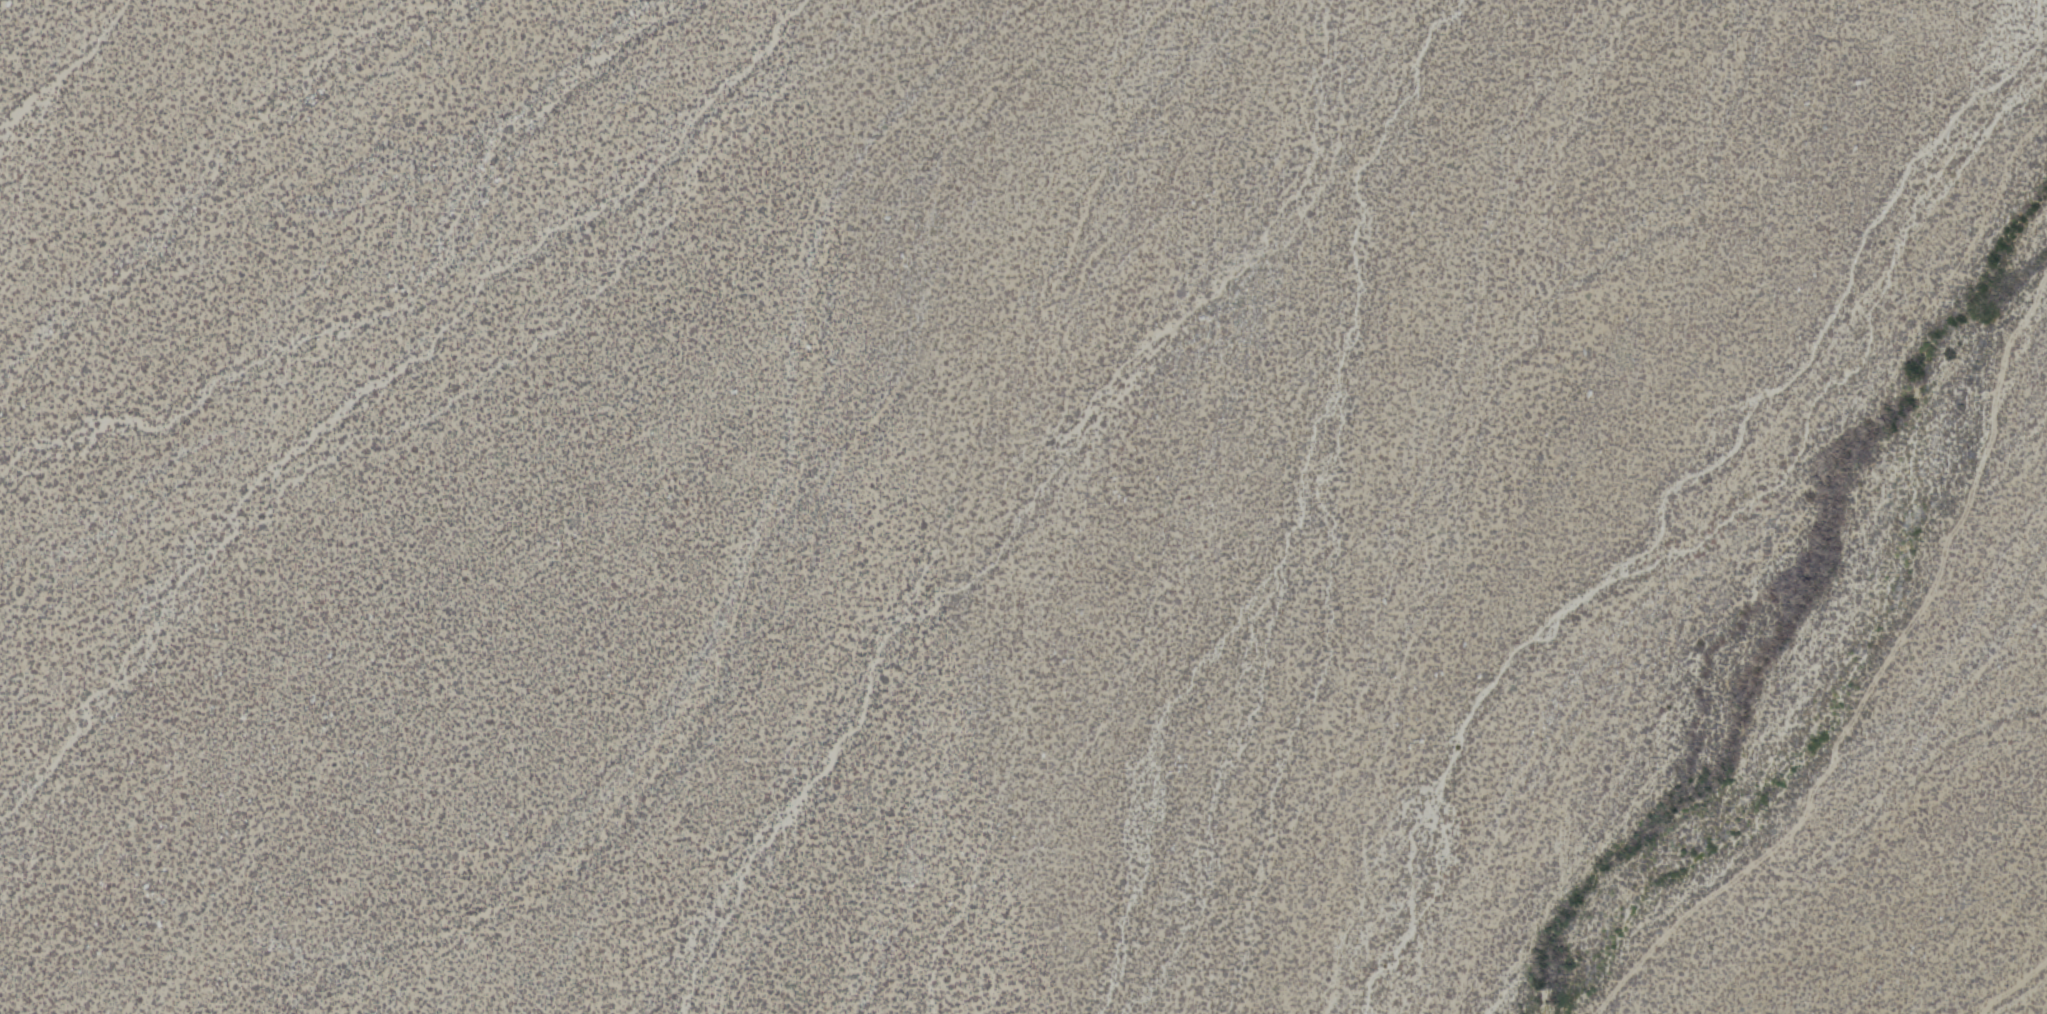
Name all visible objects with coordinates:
road: (1874, 686)
road: (2018, 990)

